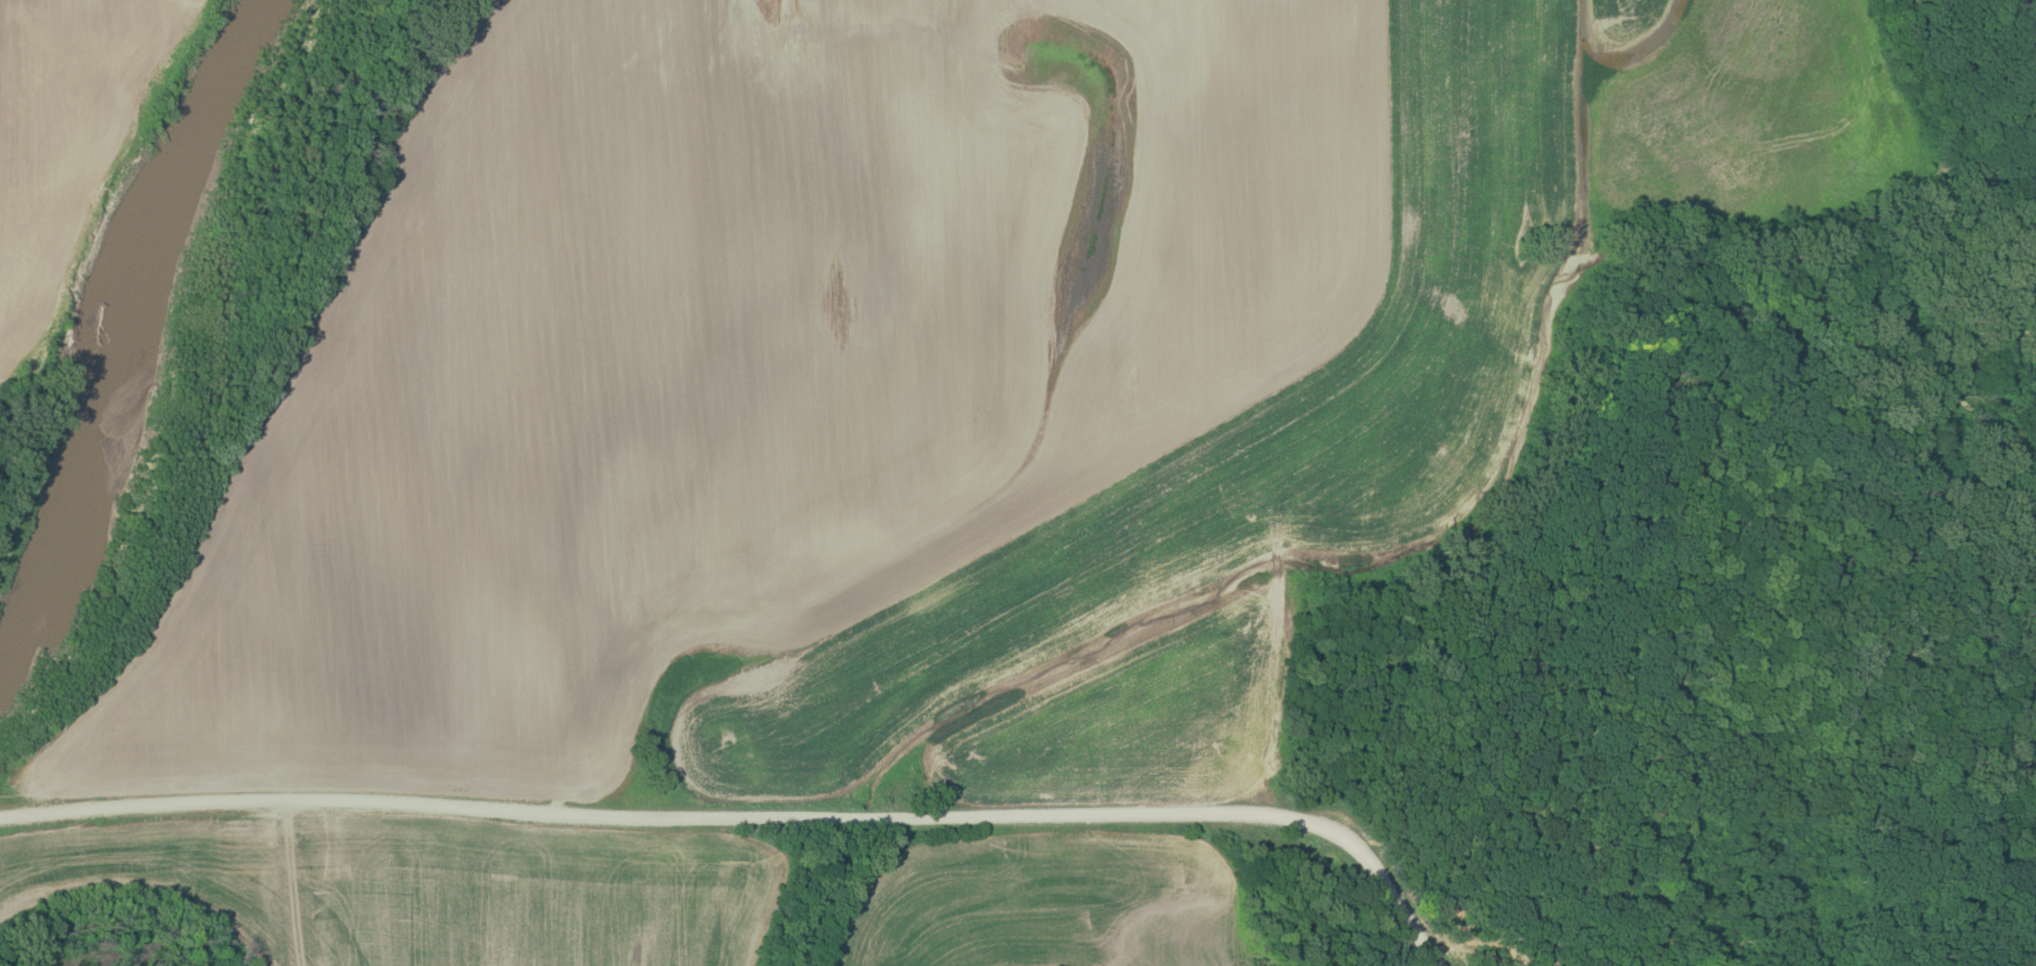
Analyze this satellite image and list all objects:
river: (103, 358)
road: (755, 820)

